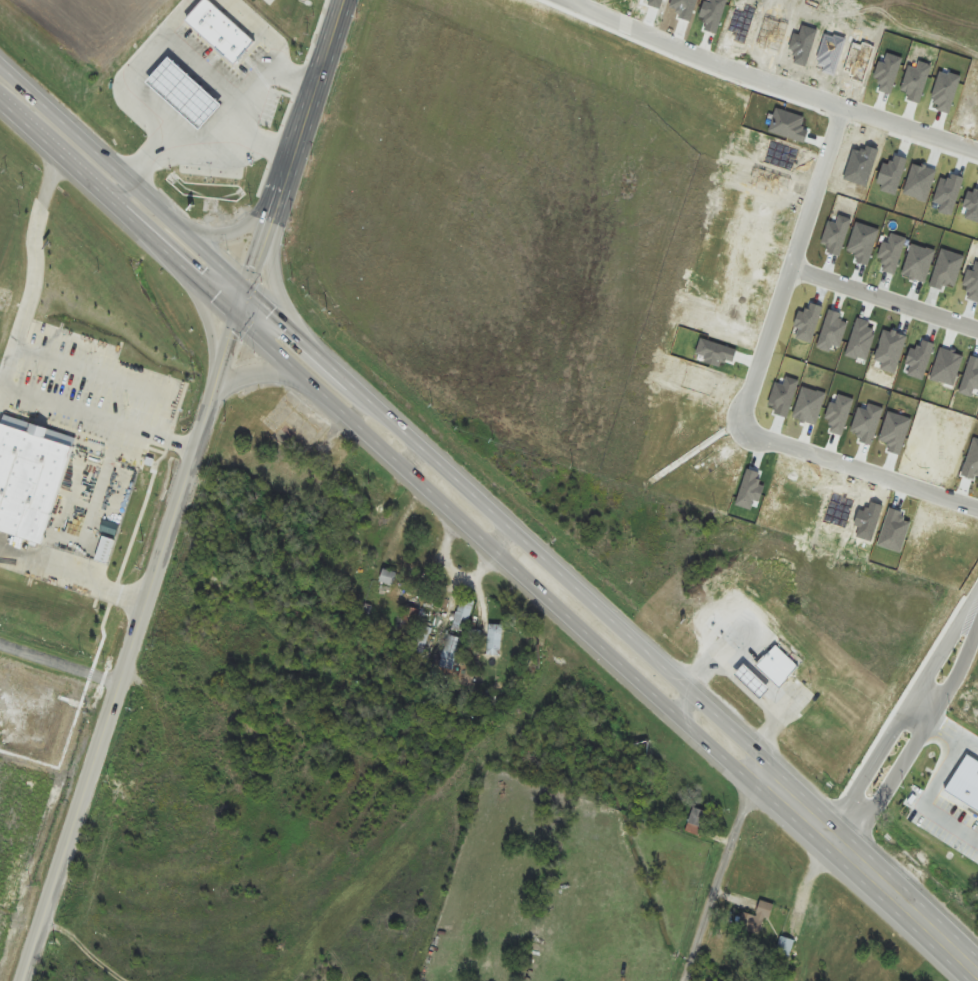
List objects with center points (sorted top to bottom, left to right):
road: (572, 2)
building: (232, 43)
road: (172, 51)
road: (768, 79)
road: (275, 86)
road: (310, 101)
building: (198, 108)
gas station: (198, 108)
building: (174, 111)
road: (217, 155)
road: (275, 212)
road: (231, 231)
road: (261, 255)
road: (789, 264)
road: (33, 274)
road: (276, 280)
traffic signals: (250, 290)
road: (883, 298)
road: (245, 308)
road: (208, 325)
traffic signals: (240, 326)
road: (229, 359)
road: (256, 374)
road: (105, 376)
road: (100, 418)
road: (856, 470)
building: (30, 476)
road: (492, 506)
road: (482, 542)
building: (389, 577)
road: (73, 580)
building: (463, 614)
building: (409, 619)
building: (421, 639)
building: (495, 640)
building: (450, 652)
road: (60, 665)
building: (777, 667)
building: (753, 682)
gas station: (753, 682)
road: (120, 686)
road: (918, 712)
road: (899, 717)
building: (901, 733)
road: (914, 744)
road: (934, 788)
building: (923, 808)
building: (699, 817)
building: (208, 823)
road: (726, 865)
building: (753, 920)
building: (785, 947)
road: (34, 978)

